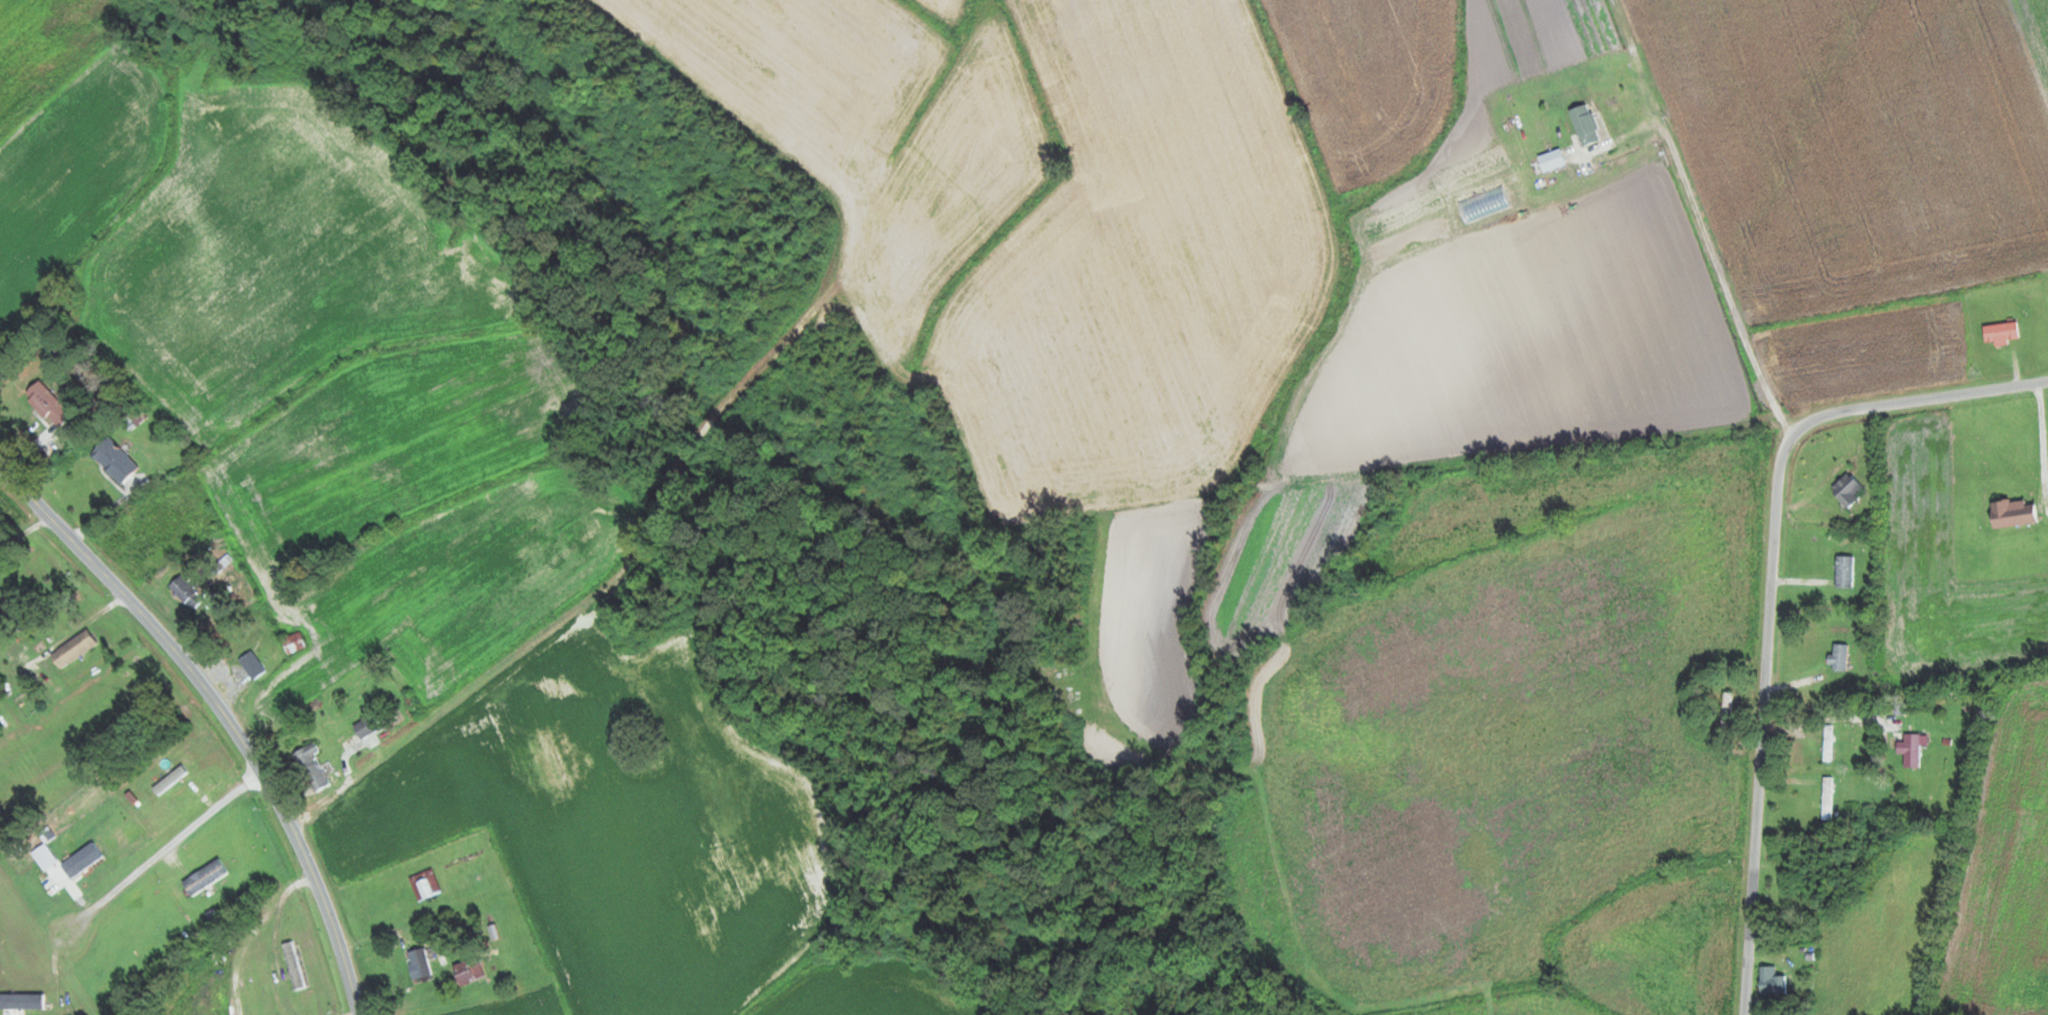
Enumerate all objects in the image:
building: (2000, 331)
building: (47, 405)
building: (112, 460)
building: (1847, 489)
building: (2012, 513)
building: (1844, 571)
road: (1772, 591)
building: (185, 592)
building: (293, 643)
building: (69, 649)
building: (1838, 657)
building: (251, 665)
building: (1726, 709)
road: (224, 711)
building: (366, 727)
building: (1826, 743)
building: (1911, 751)
building: (311, 768)
building: (1826, 798)
road: (489, 843)
building: (424, 885)
road: (241, 930)
building: (418, 964)
building: (293, 970)
building: (466, 971)
building: (1771, 982)

